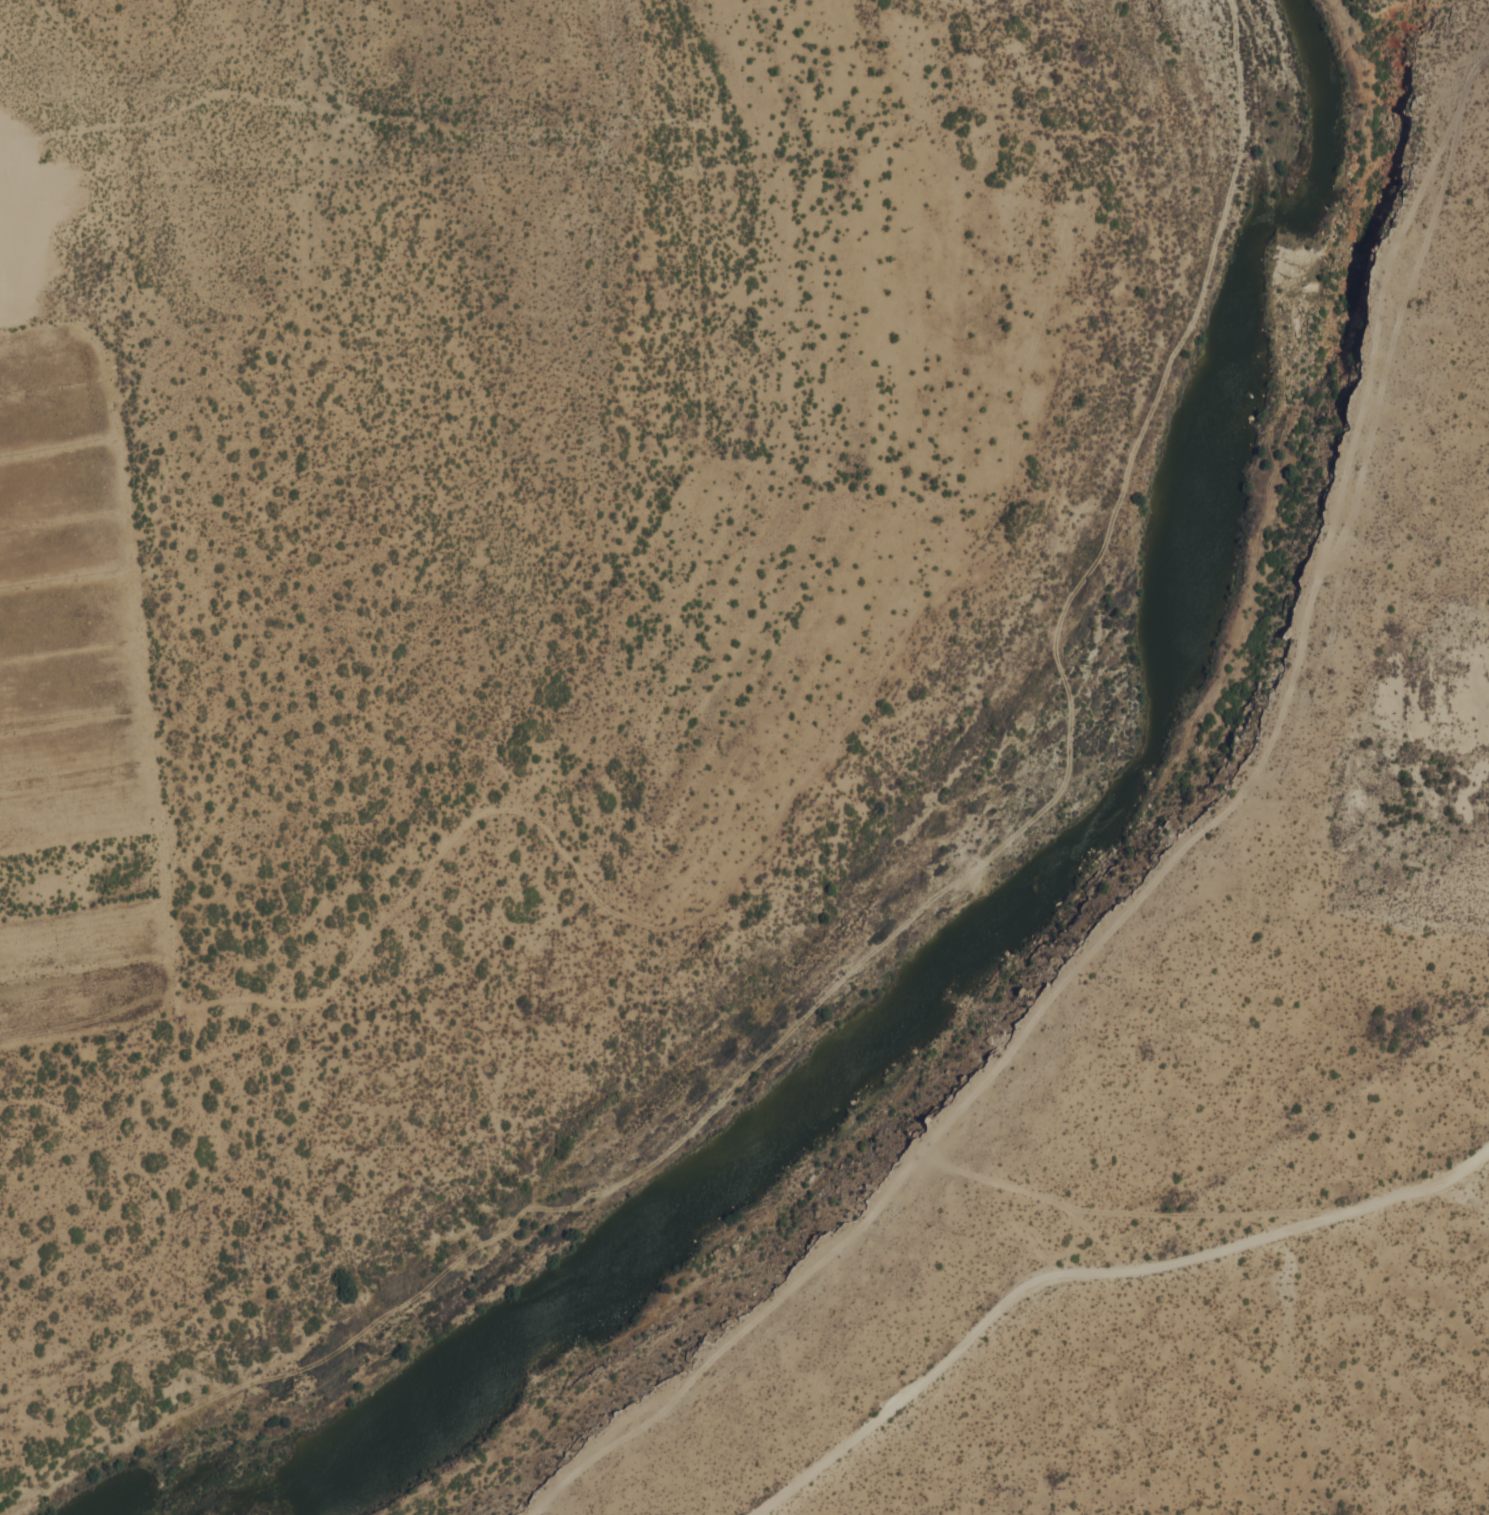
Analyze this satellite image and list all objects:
road: (1210, 824)
road: (998, 863)
road: (397, 908)
road: (1163, 911)
river: (1008, 913)
road: (1091, 1273)

